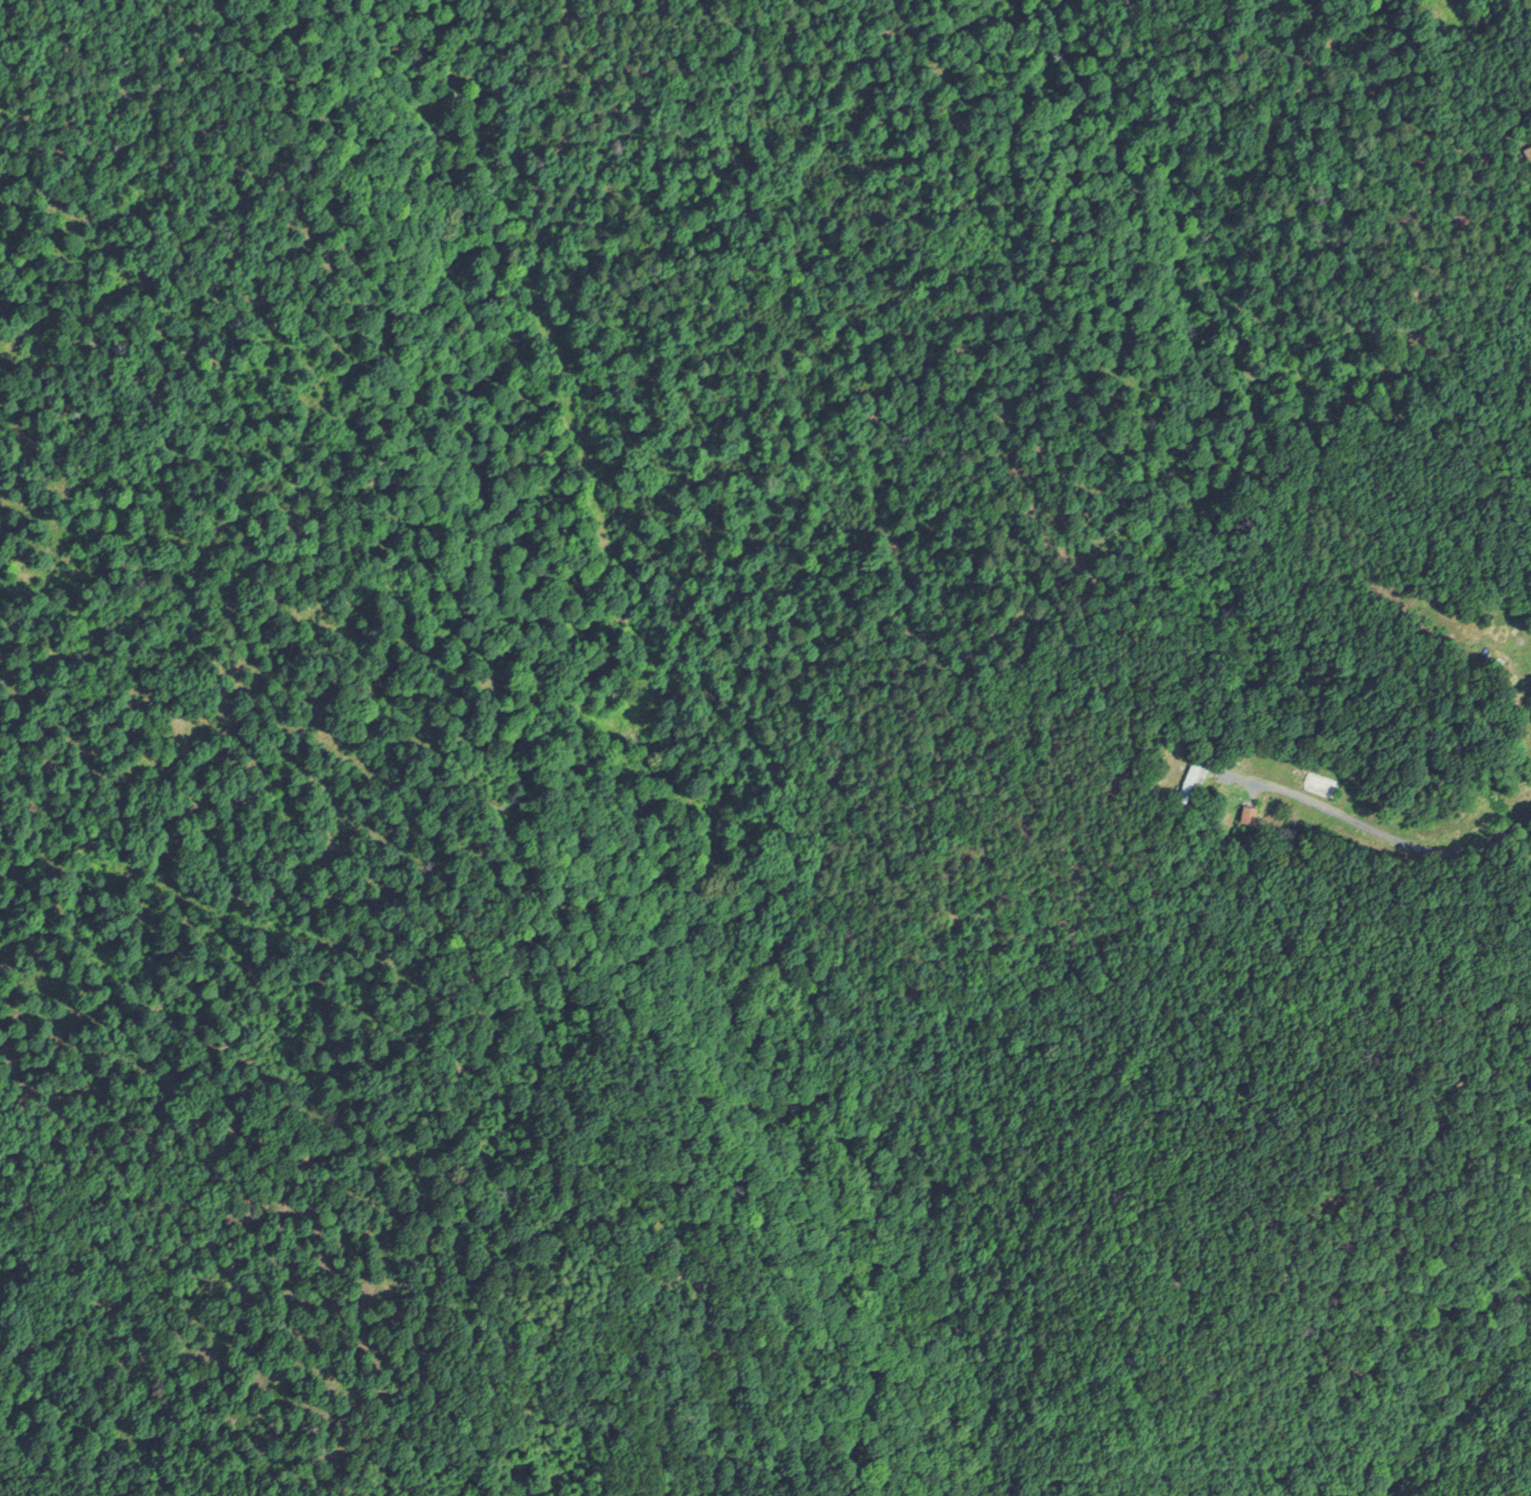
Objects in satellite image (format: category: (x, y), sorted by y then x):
building: (1529, 150)
building: (1192, 777)
building: (1250, 811)

